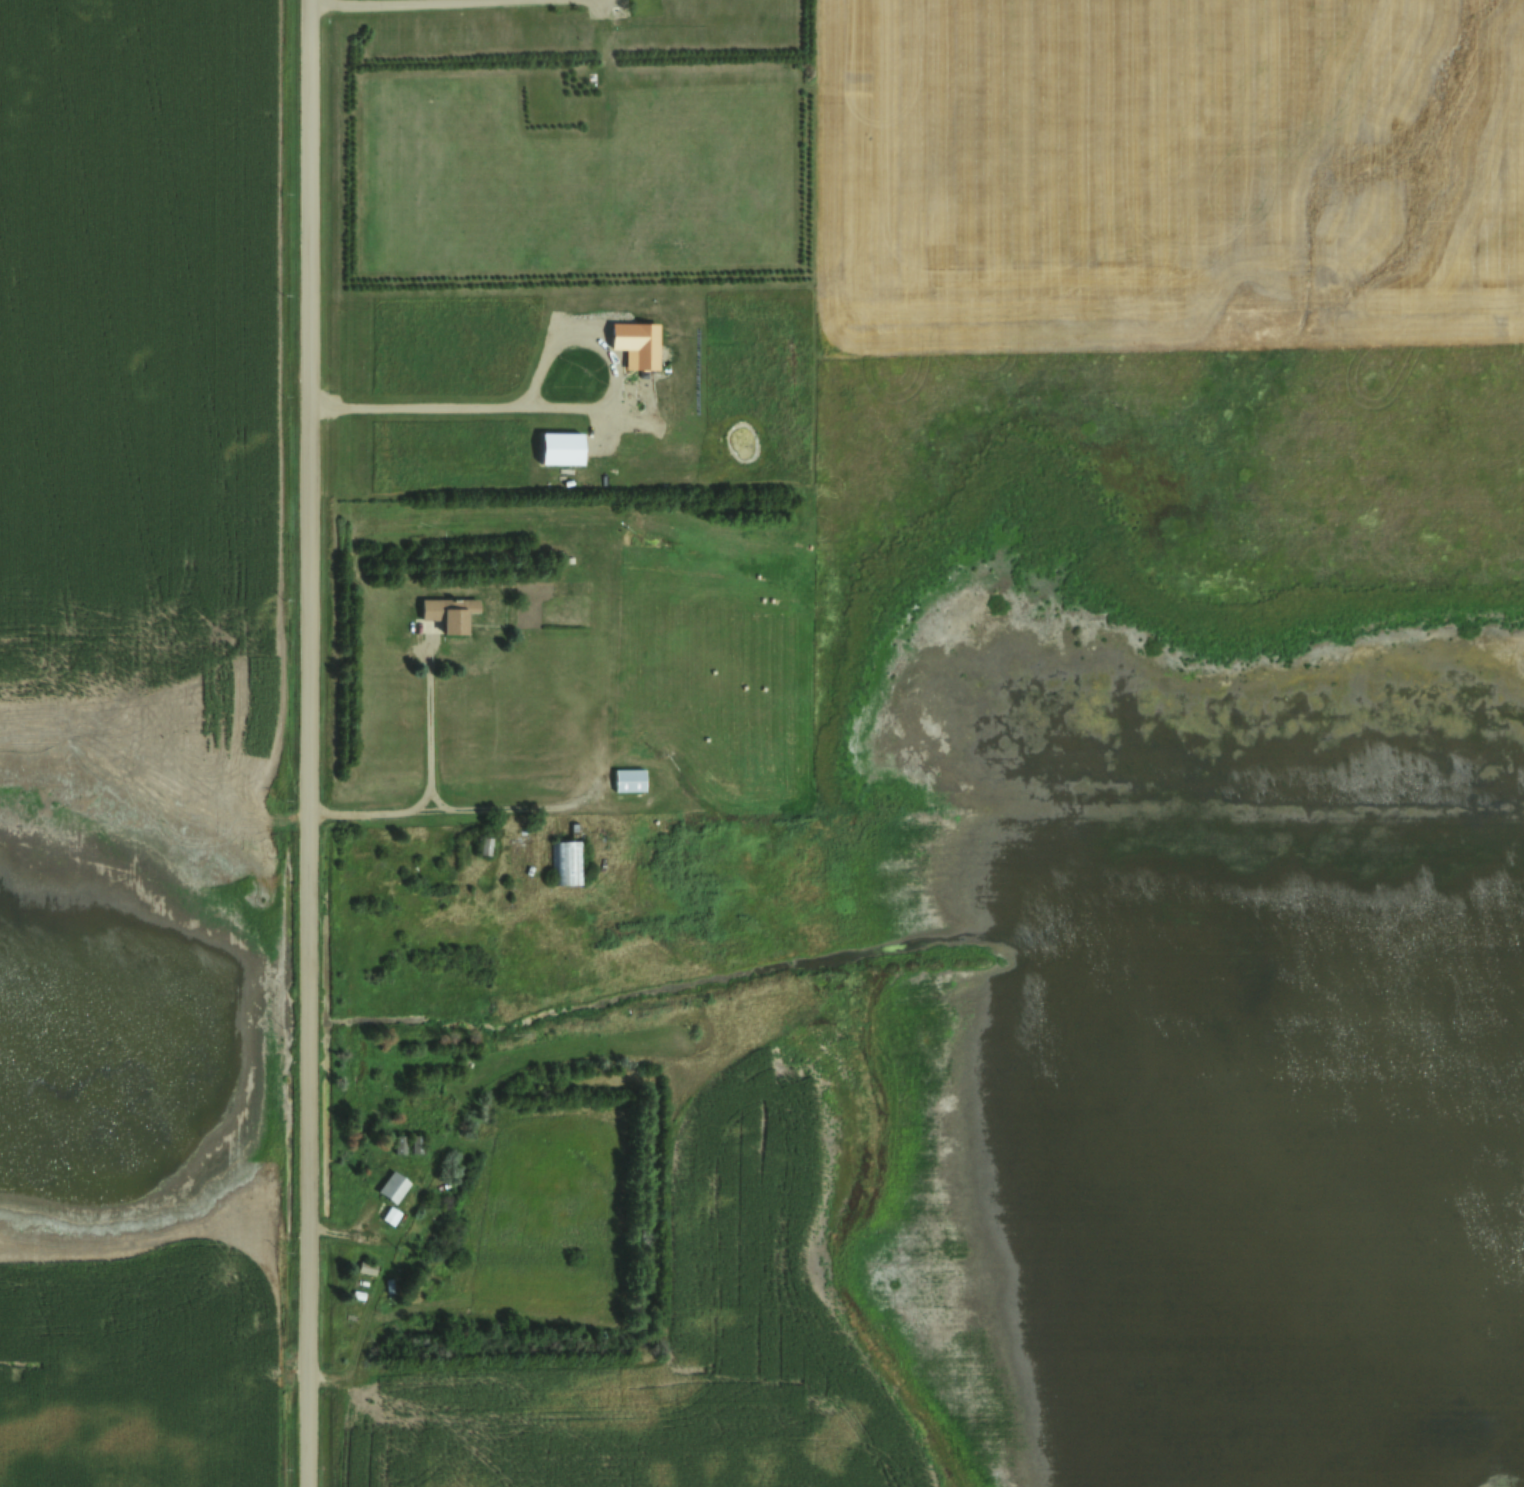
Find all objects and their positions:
building: (446, 613)
road: (307, 743)
building: (625, 780)
building: (562, 862)
building: (390, 1186)
building: (387, 1215)

